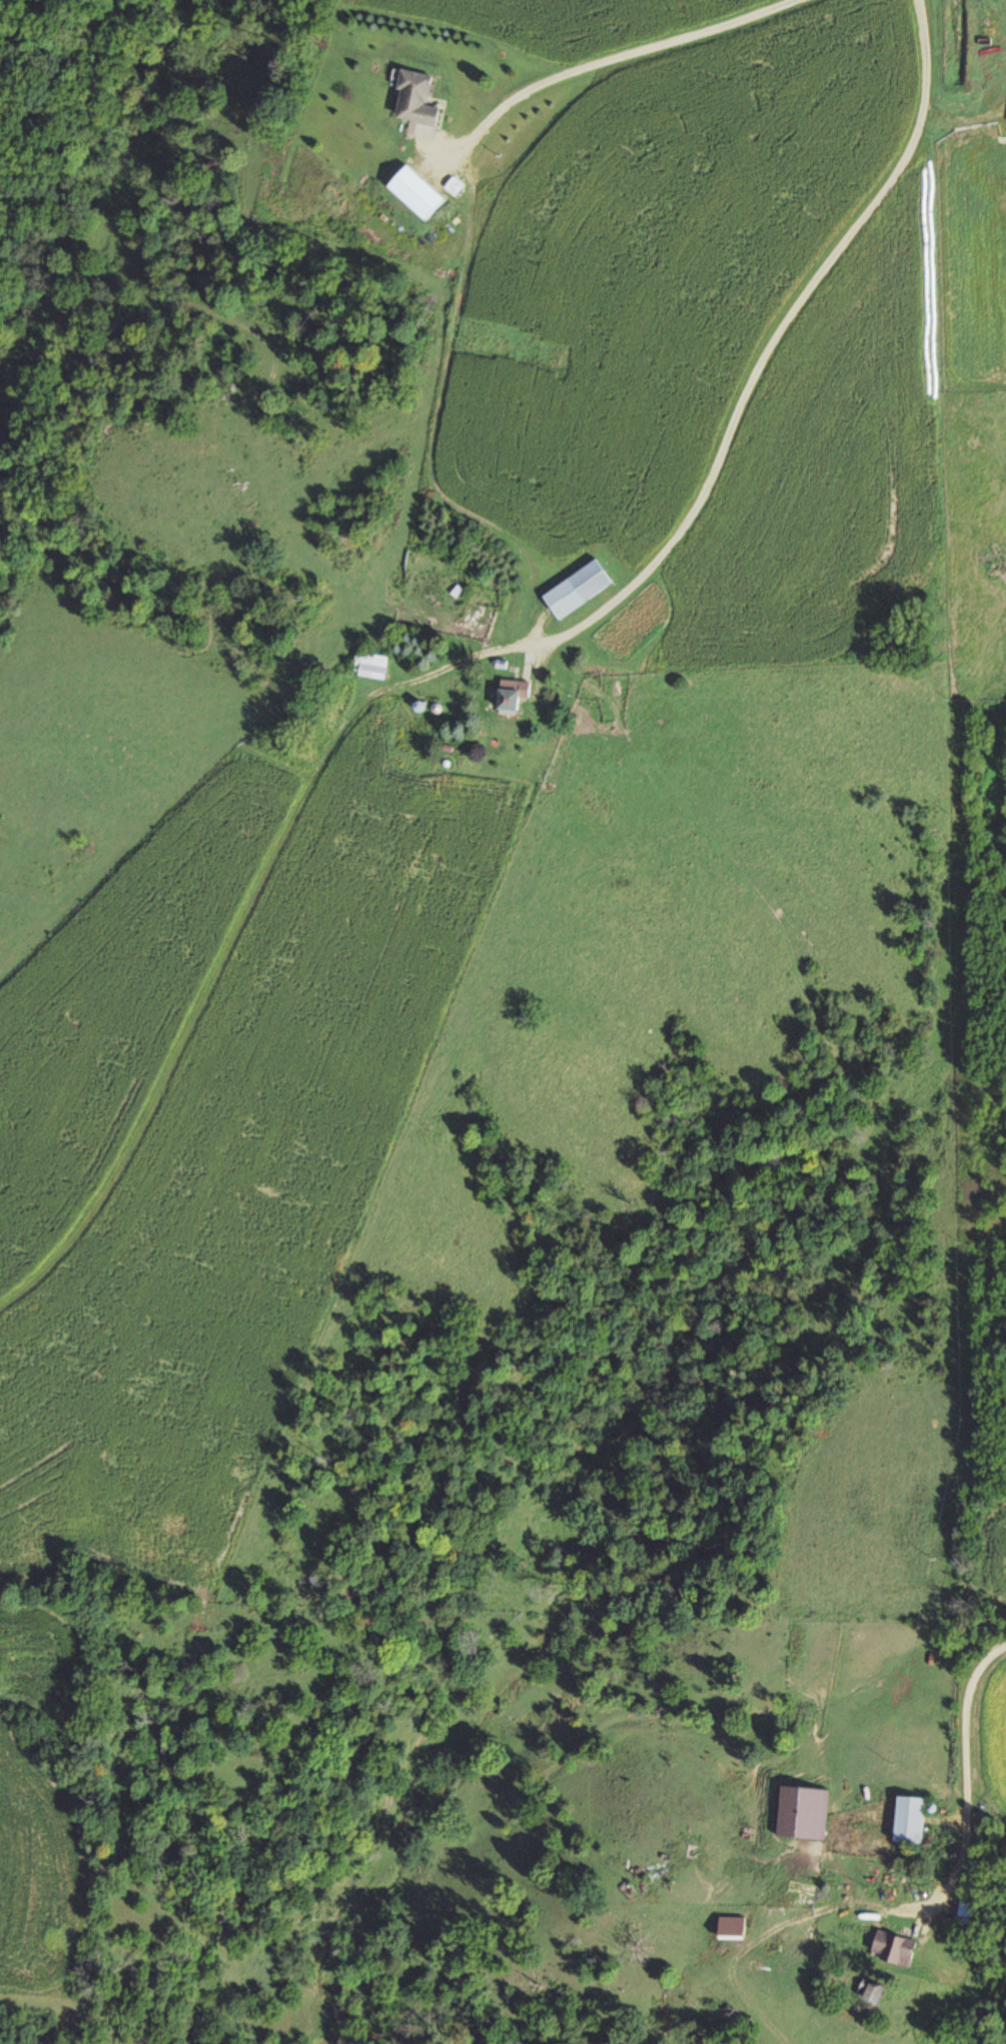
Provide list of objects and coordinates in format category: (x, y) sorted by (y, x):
road: (579, 59)
building: (412, 97)
building: (412, 192)
road: (764, 351)
building: (574, 589)
building: (371, 665)
building: (515, 694)
road: (967, 1772)
building: (799, 1811)
building: (906, 1818)
building: (795, 1893)
building: (889, 1947)
building: (867, 1991)

